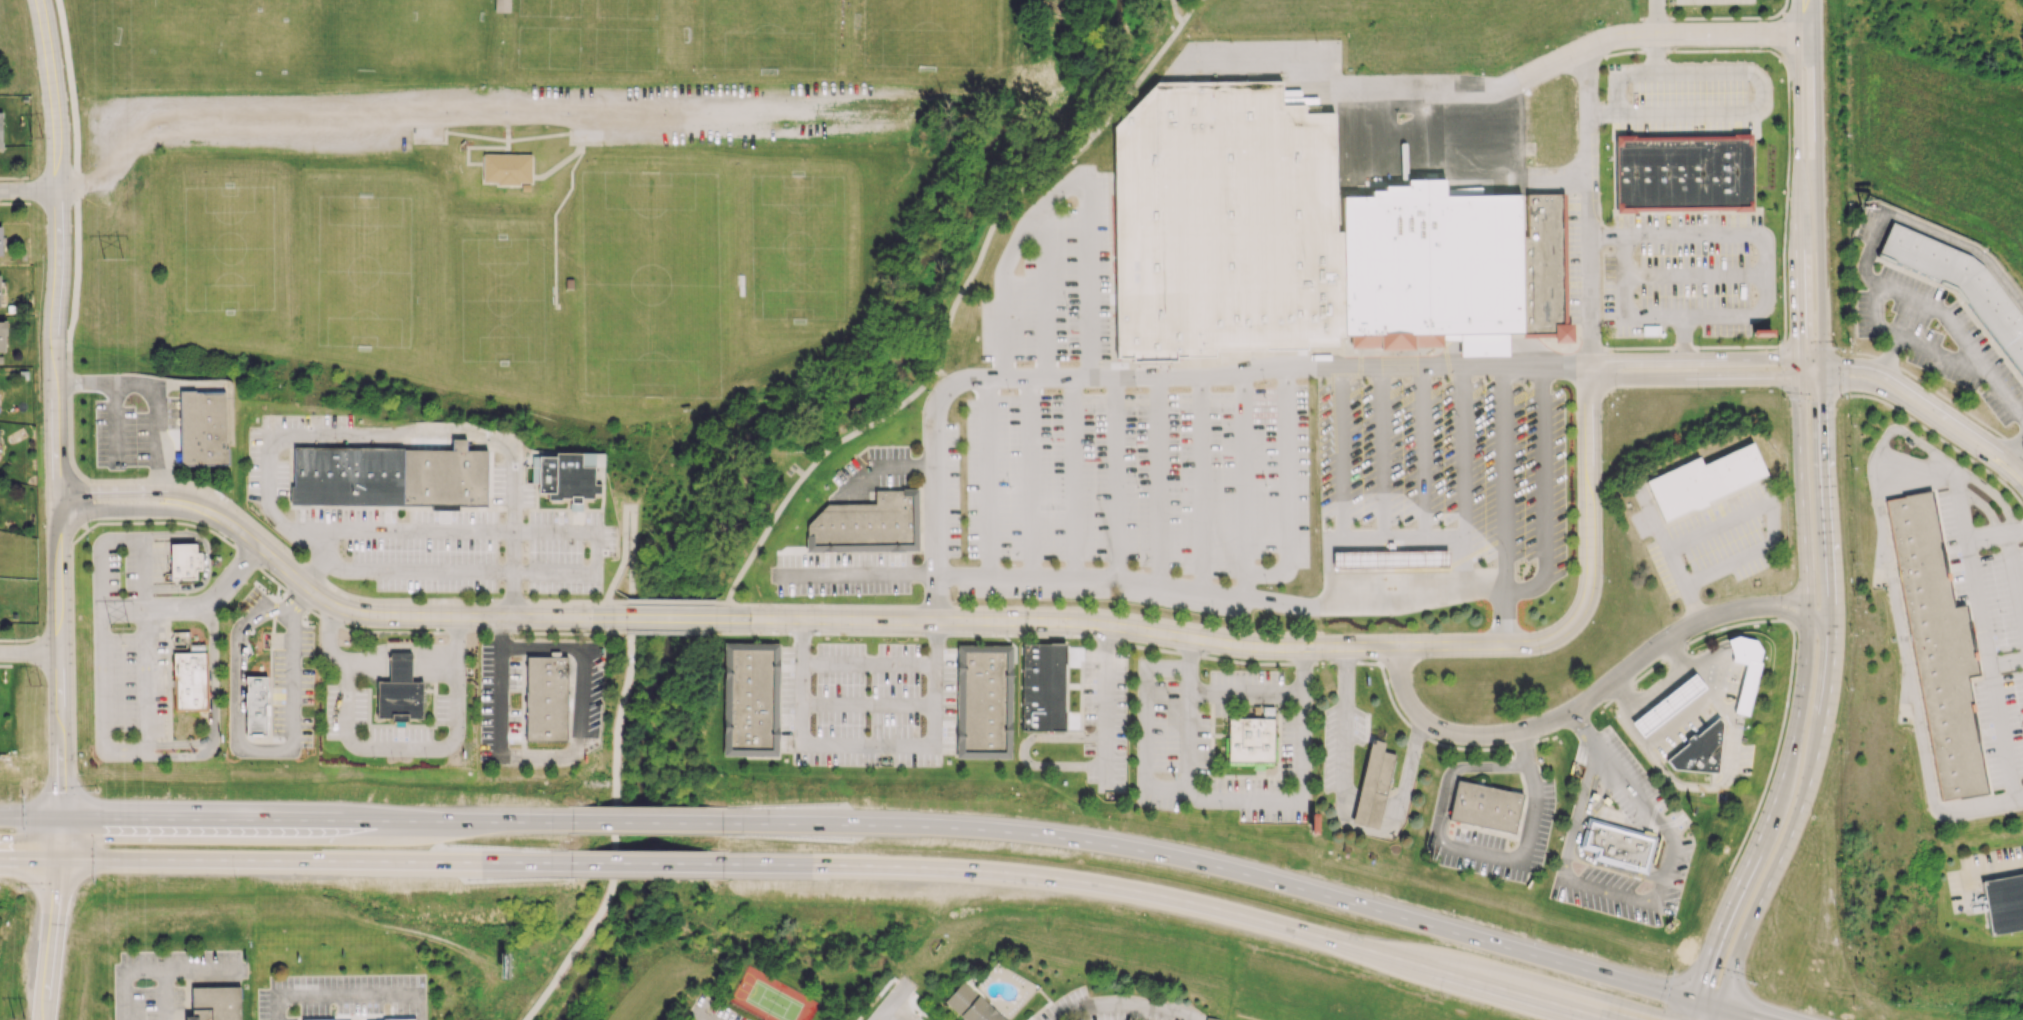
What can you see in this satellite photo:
building: (503, 6)
road: (1175, 12)
road: (1808, 17)
road: (1726, 18)
park: (934, 27)
park: (587, 28)
park: (257, 33)
park: (396, 33)
park: (147, 34)
park: (761, 34)
road: (1696, 34)
road: (1655, 35)
road: (1684, 50)
road: (1013, 84)
road: (1763, 87)
road: (1377, 89)
road: (1798, 90)
parking lot: (1686, 96)
parking lot: (520, 117)
road: (539, 117)
building: (0, 130)
power tower: (38, 138)
road: (119, 146)
road: (1816, 153)
road: (1515, 160)
building: (508, 168)
road: (1613, 172)
building: (1686, 174)
road: (1786, 183)
road: (70, 187)
road: (29, 190)
park: (545, 192)
park: (609, 196)
park: (690, 196)
road: (1577, 205)
park: (805, 212)
road: (1038, 221)
building: (1226, 225)
road: (1603, 233)
building: (0, 241)
road: (1765, 241)
park: (609, 242)
park: (691, 242)
road: (1796, 254)
power tower: (118, 255)
parking lot: (1573, 259)
park: (494, 263)
building: (1545, 265)
park: (231, 266)
road: (81, 267)
building: (1434, 267)
park: (361, 268)
road: (1566, 270)
parking lot: (1687, 274)
road: (1694, 275)
parking lot: (1056, 277)
road: (1089, 279)
road: (1577, 284)
park: (610, 287)
park: (691, 287)
park: (806, 287)
building: (1961, 287)
road: (1049, 293)
road: (957, 299)
road: (1918, 299)
building: (0, 303)
road: (1623, 303)
road: (1588, 314)
road: (54, 326)
road: (1821, 327)
road: (1004, 329)
park: (610, 331)
park: (692, 331)
building: (2, 336)
park: (496, 337)
road: (1681, 337)
road: (1805, 346)
building: (1487, 347)
road: (1664, 347)
road: (1491, 349)
road: (1833, 349)
road: (1430, 353)
road: (1949, 355)
road: (1692, 358)
road: (1399, 360)
traffic signals: (1797, 360)
road: (1810, 361)
traffic signals: (1823, 362)
road: (1141, 370)
park: (693, 375)
park: (612, 376)
road: (1151, 376)
road: (1692, 377)
traffic signals: (1798, 378)
traffic signals: (1823, 380)
road: (157, 387)
road: (1918, 395)
road: (1941, 395)
road: (1904, 403)
road: (113, 422)
parking lot: (136, 431)
building: (204, 431)
park: (821, 431)
road: (372, 436)
road: (1936, 436)
parking lot: (259, 445)
road: (2011, 448)
road: (1939, 456)
parking lot: (875, 467)
road: (1946, 468)
parking lot: (1444, 469)
road: (2011, 469)
building: (391, 478)
building: (569, 478)
road: (1072, 478)
road: (1115, 478)
road: (990, 479)
road: (1032, 479)
road: (1464, 479)
road: (1499, 479)
building: (1702, 480)
road: (1159, 481)
road: (1201, 482)
road: (1245, 484)
road: (1422, 484)
road: (1383, 487)
road: (1344, 488)
road: (1827, 489)
parking lot: (951, 490)
road: (167, 491)
road: (1286, 491)
parking lot: (1124, 495)
road: (1980, 503)
road: (627, 509)
road: (162, 510)
road: (1719, 521)
building: (867, 525)
road: (513, 529)
parking lot: (1712, 538)
parking lot: (458, 549)
road: (1668, 554)
building: (1389, 559)
road: (206, 561)
building: (186, 563)
road: (444, 570)
parking lot: (841, 573)
building: (1383, 577)
road: (322, 578)
road: (2013, 580)
road: (1269, 600)
road: (296, 601)
road: (616, 601)
road: (671, 601)
road: (1786, 601)
road: (721, 602)
road: (1025, 606)
road: (101, 611)
road: (1792, 615)
road: (1897, 615)
road: (430, 616)
power tower: (123, 618)
road: (672, 618)
road: (1502, 620)
road: (338, 624)
road: (671, 631)
road: (1058, 634)
road: (1176, 636)
road: (1807, 637)
road: (1102, 638)
parking lot: (135, 641)
building: (180, 641)
road: (1984, 644)
road: (541, 646)
building: (1939, 648)
road: (1826, 653)
road: (30, 654)
road: (73, 654)
road: (1679, 654)
road: (334, 655)
road: (2005, 660)
road: (456, 662)
road: (400, 664)
road: (233, 665)
building: (401, 666)
building: (1744, 669)
road: (1680, 676)
building: (191, 683)
building: (1044, 686)
power tower: (37, 687)
parking lot: (585, 694)
building: (547, 698)
road: (293, 700)
building: (401, 700)
building: (753, 700)
building: (986, 700)
parking lot: (500, 701)
road: (1829, 702)
parking lot: (868, 704)
road: (212, 705)
building: (1671, 705)
gas station: (1671, 705)
building: (257, 706)
parking lot: (442, 708)
road: (1694, 708)
parking lot: (346, 709)
road: (1187, 710)
road: (1568, 712)
road: (1102, 715)
road: (1625, 717)
road: (1729, 717)
parking lot: (1105, 718)
road: (618, 720)
parking lot: (398, 733)
road: (61, 736)
building: (1253, 741)
road: (1737, 742)
road: (865, 744)
parking lot: (1172, 744)
road: (1445, 744)
road: (398, 748)
road: (1022, 751)
building: (1701, 752)
road: (540, 758)
road: (180, 759)
road: (1453, 770)
building: (1378, 771)
road: (1301, 786)
road: (1603, 794)
building: (1485, 806)
road: (1368, 808)
building: (1369, 811)
traffic signals: (62, 820)
road: (292, 820)
road: (646, 821)
road: (1344, 821)
parking lot: (1534, 831)
road: (1531, 835)
building: (1619, 845)
road: (1577, 846)
traffic signals: (59, 858)
road: (292, 861)
road: (655, 862)
road: (1221, 868)
parking lot: (1981, 871)
road: (1977, 874)
road: (1618, 895)
road: (1174, 897)
building: (2003, 902)
road: (1755, 910)
road: (56, 920)
road: (573, 953)
road: (1707, 960)
road: (147, 967)
park: (571, 989)
road: (892, 990)
road: (350, 993)
park: (773, 1002)
building: (214, 1003)
traffic signals: (1694, 1003)
building: (969, 1004)
traffic signals: (1718, 1009)
road: (881, 1011)
road: (898, 1011)
road: (1126, 1013)
road: (1737, 1014)
road: (705, 1016)
power tower: (19, 1017)
building: (1210, 1018)
building: (332, 1019)
building: (399, 1019)

